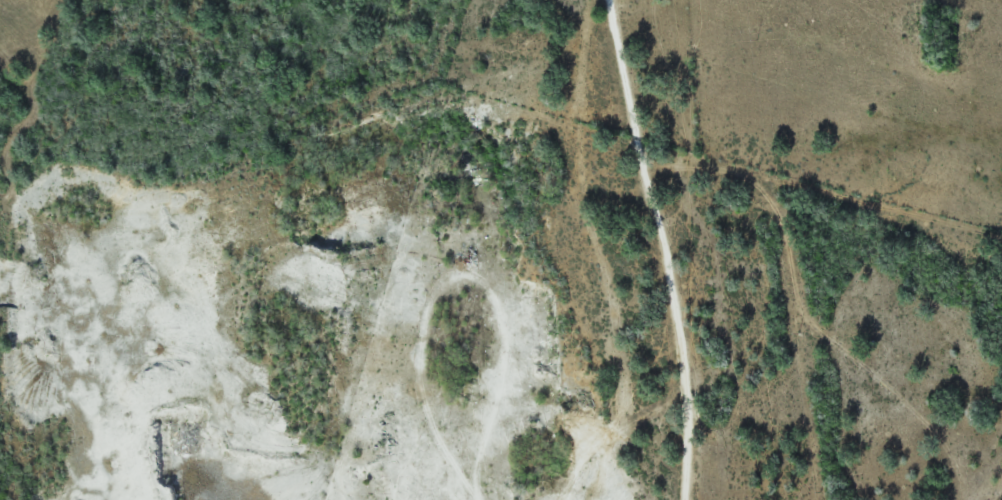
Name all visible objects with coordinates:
road: (666, 247)

